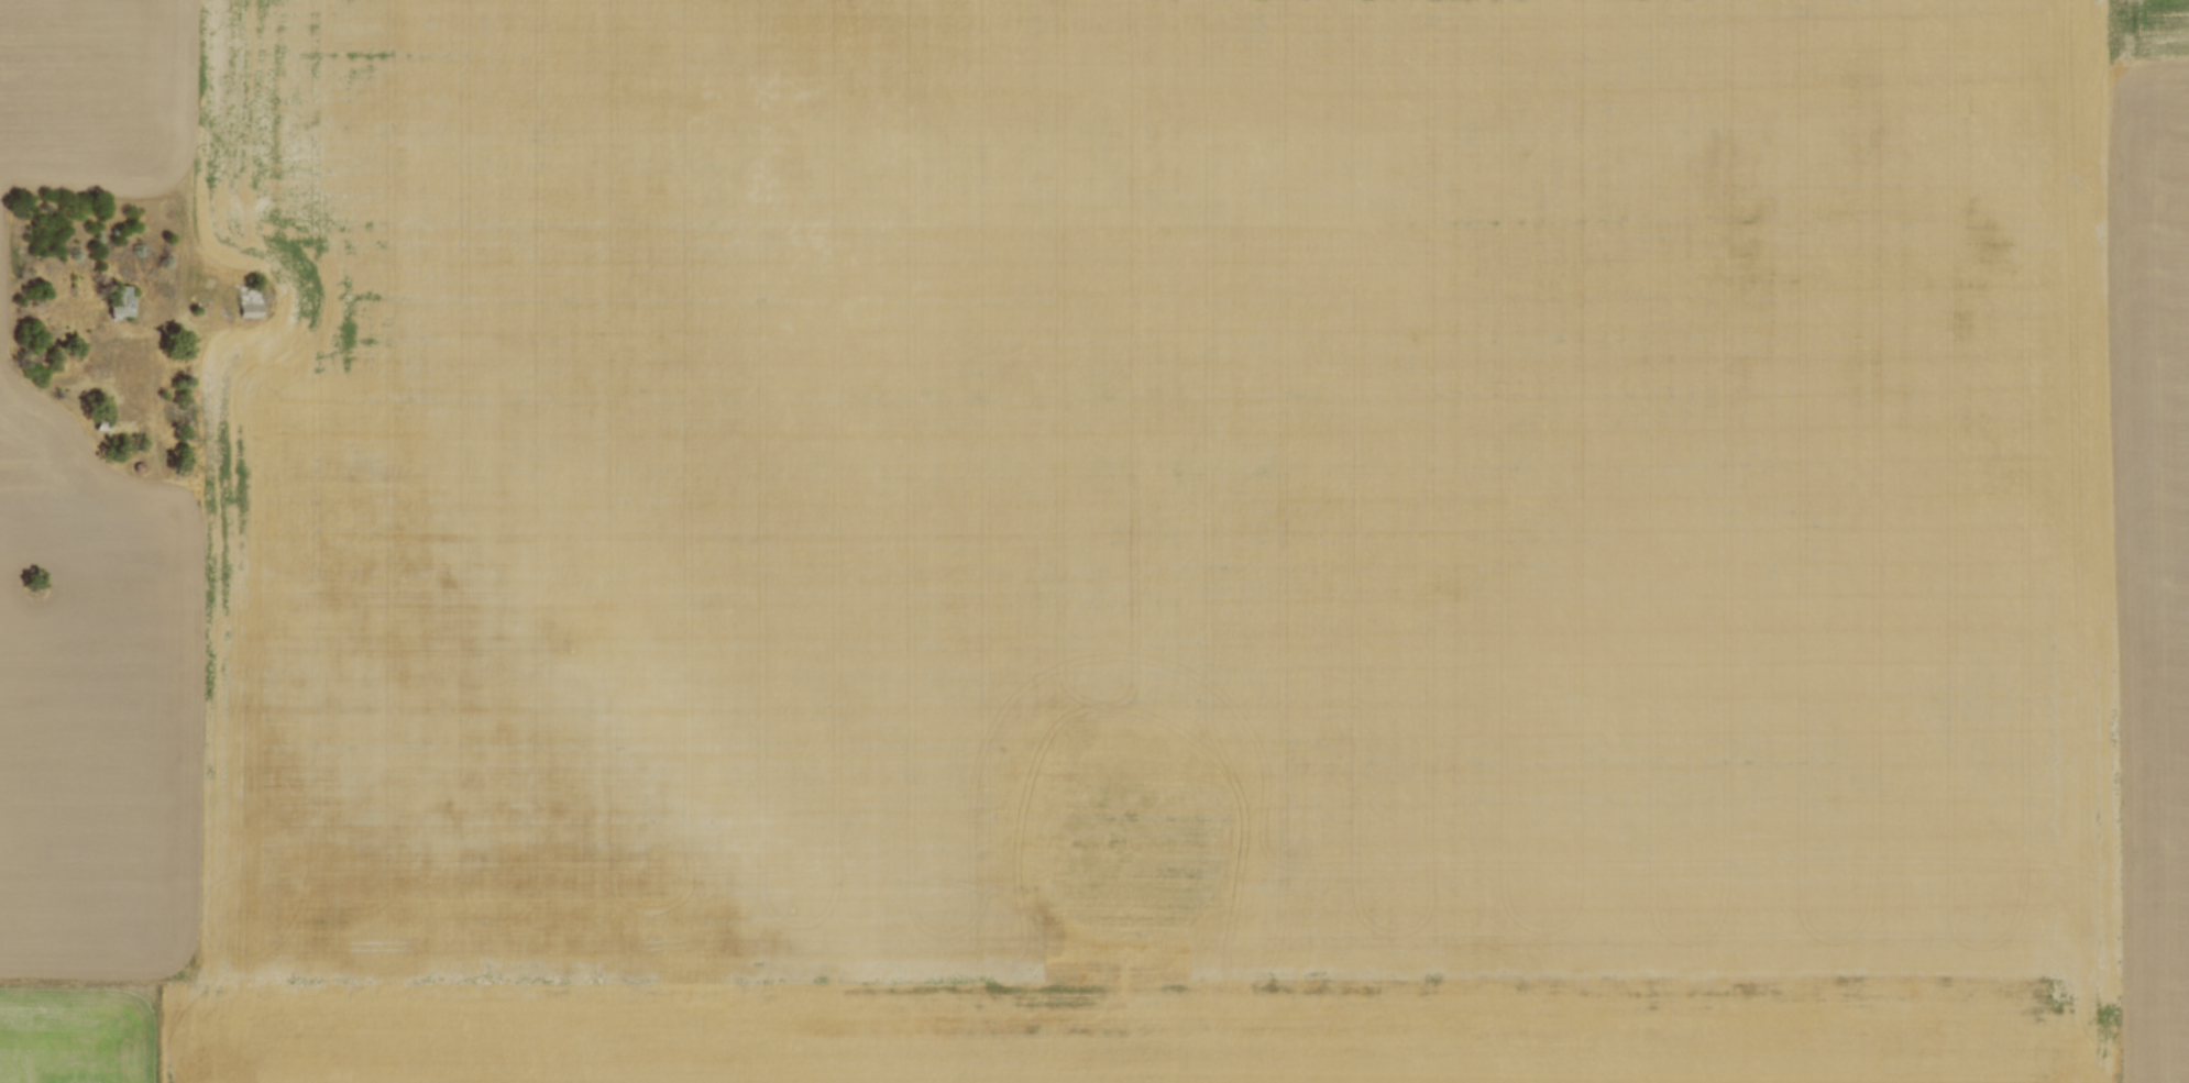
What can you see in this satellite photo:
building: (249, 297)
building: (120, 301)
building: (102, 427)
crop: (1094, 541)
road: (2119, 541)

